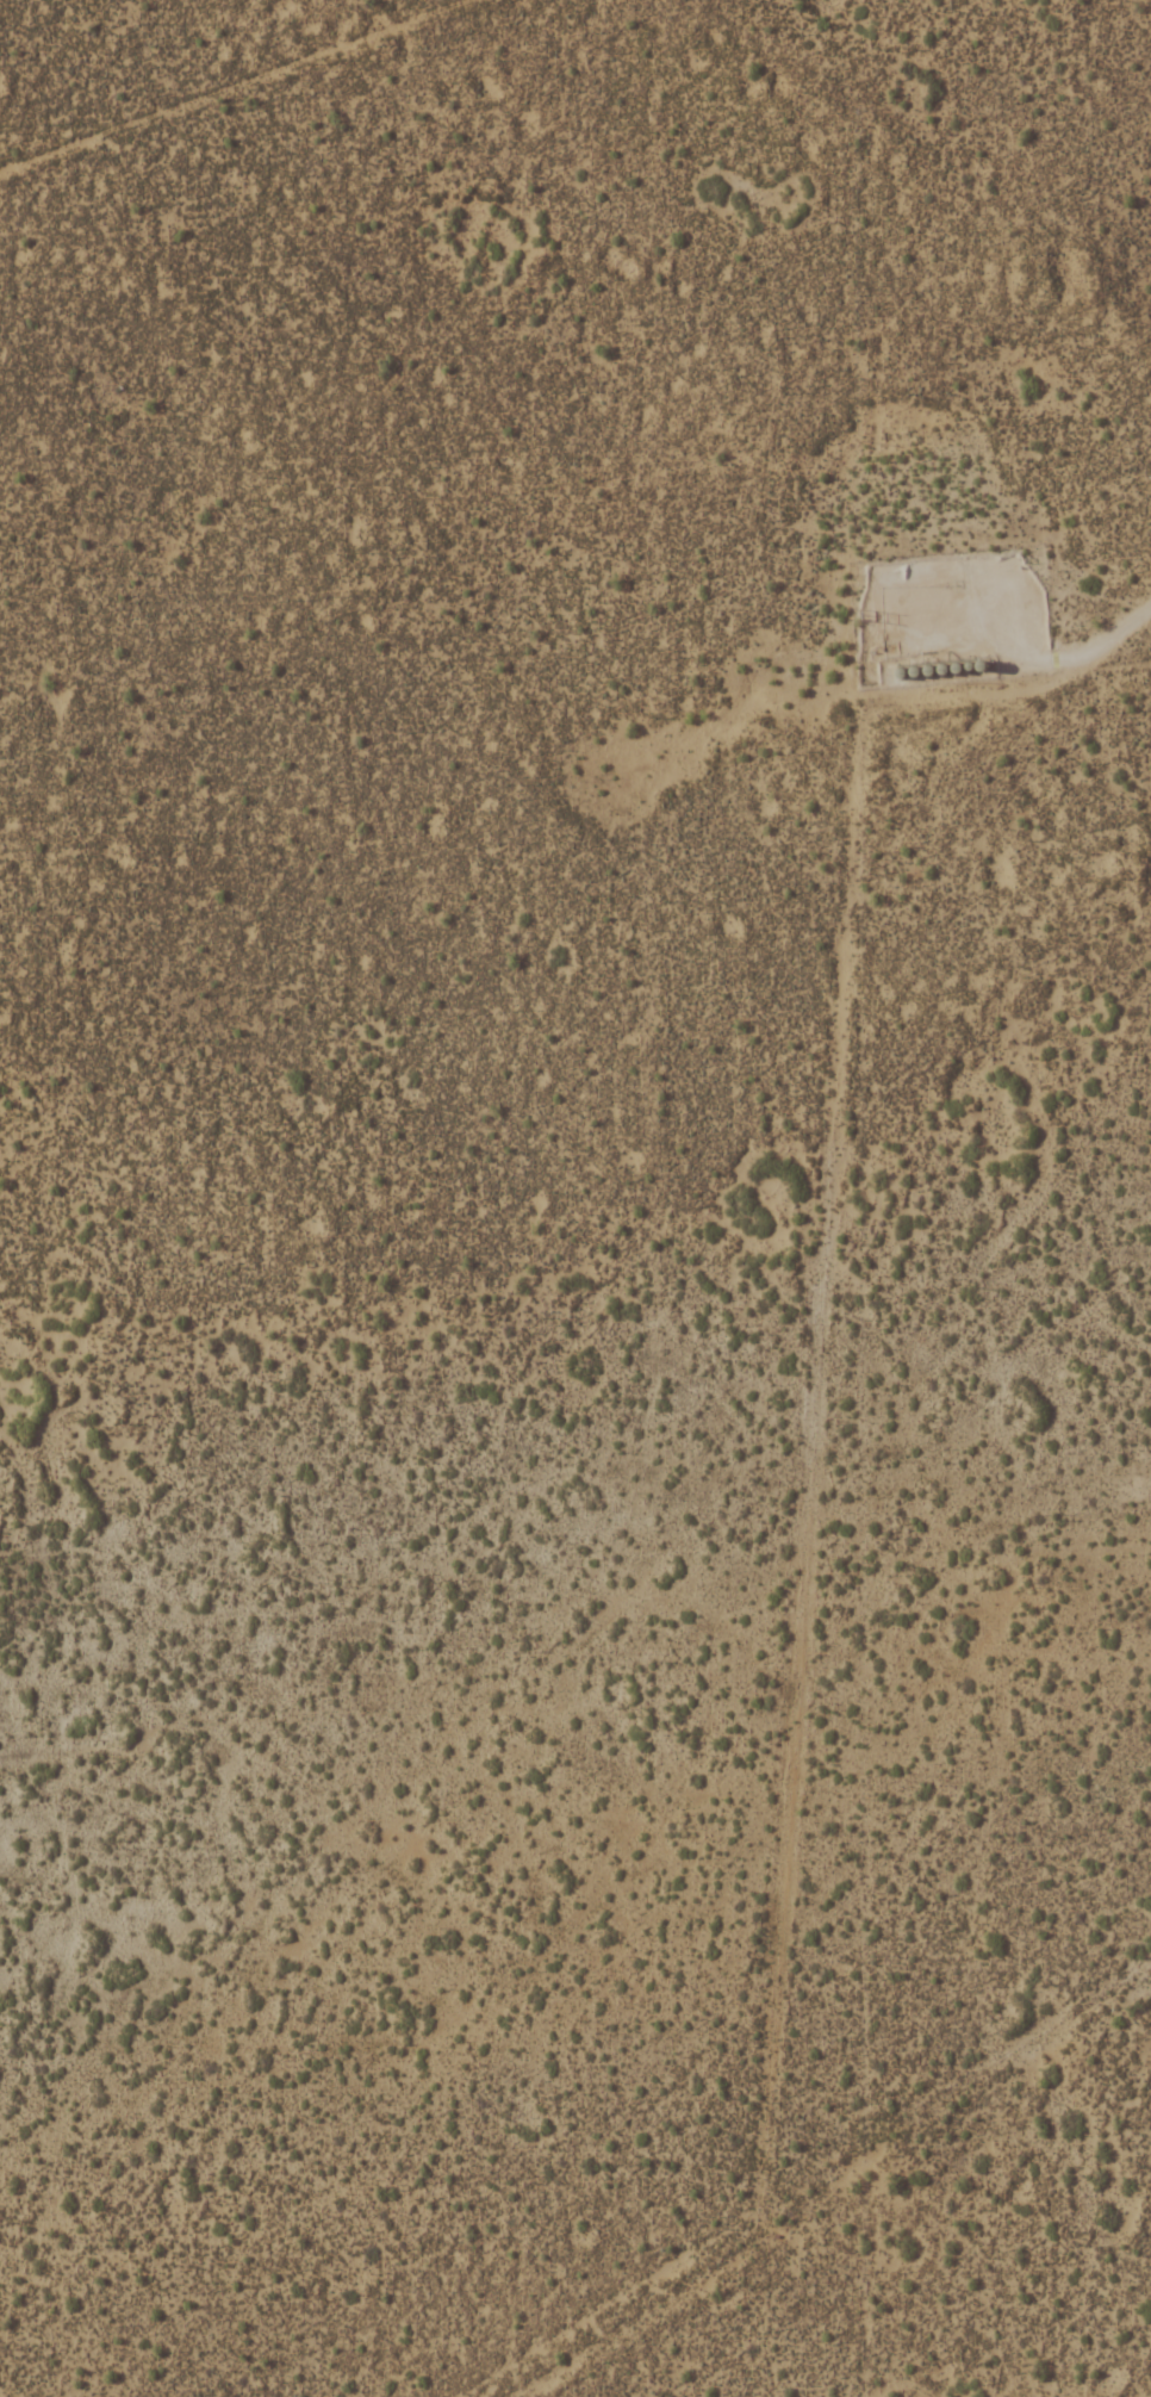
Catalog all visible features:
petroleum well: (956, 584)
road: (1016, 656)

